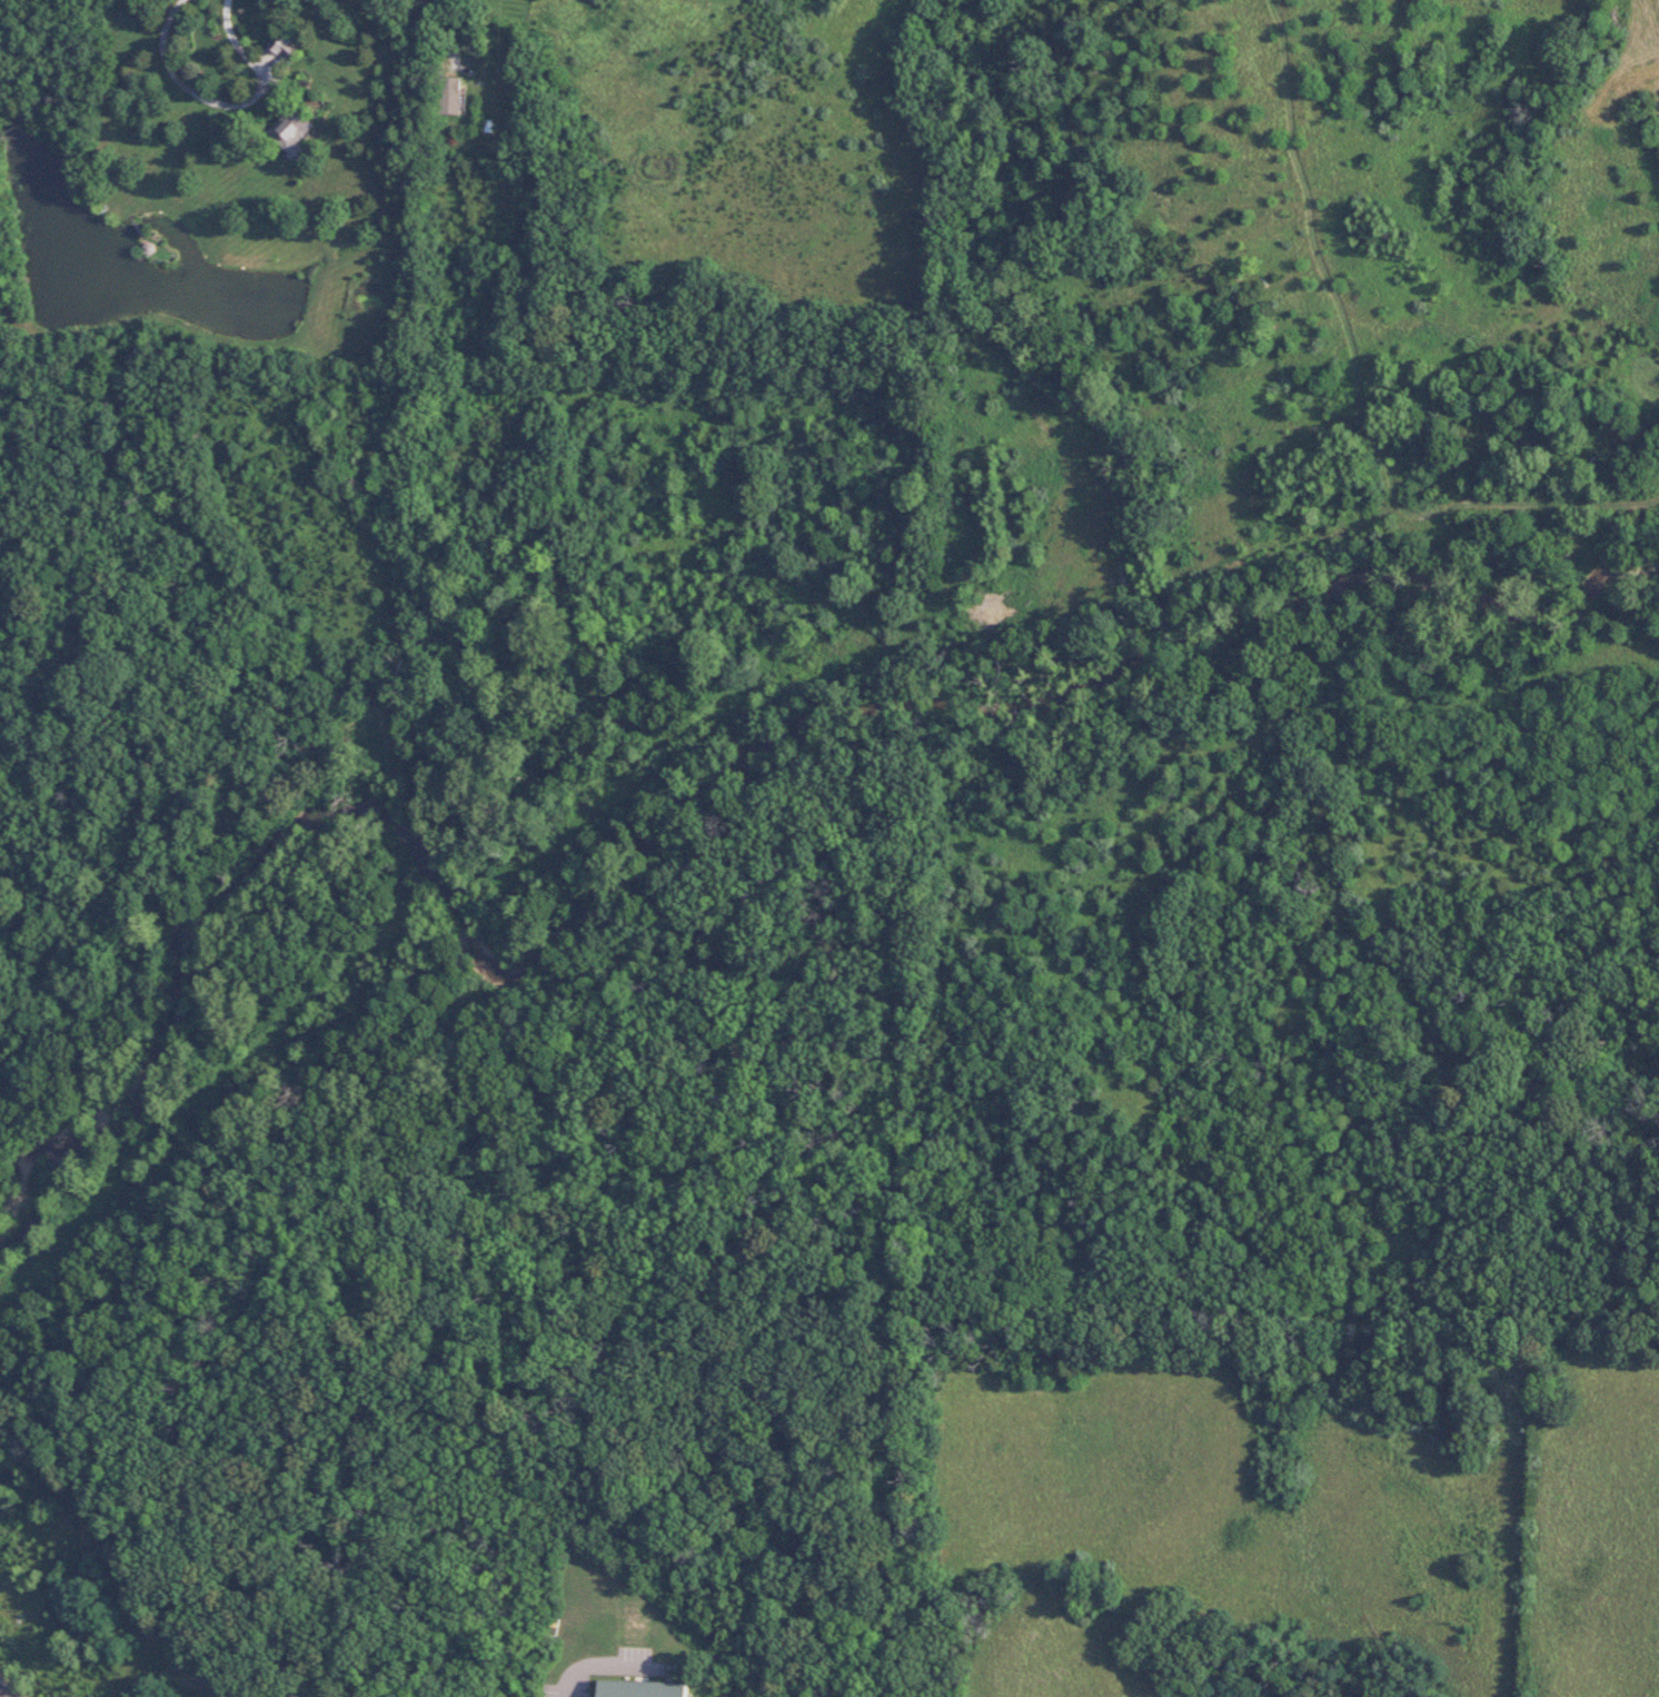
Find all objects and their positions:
road: (446, 33)
building: (284, 44)
road: (185, 83)
building: (449, 96)
building: (290, 129)
road: (600, 1665)
building: (642, 1688)
road: (4, 1693)

